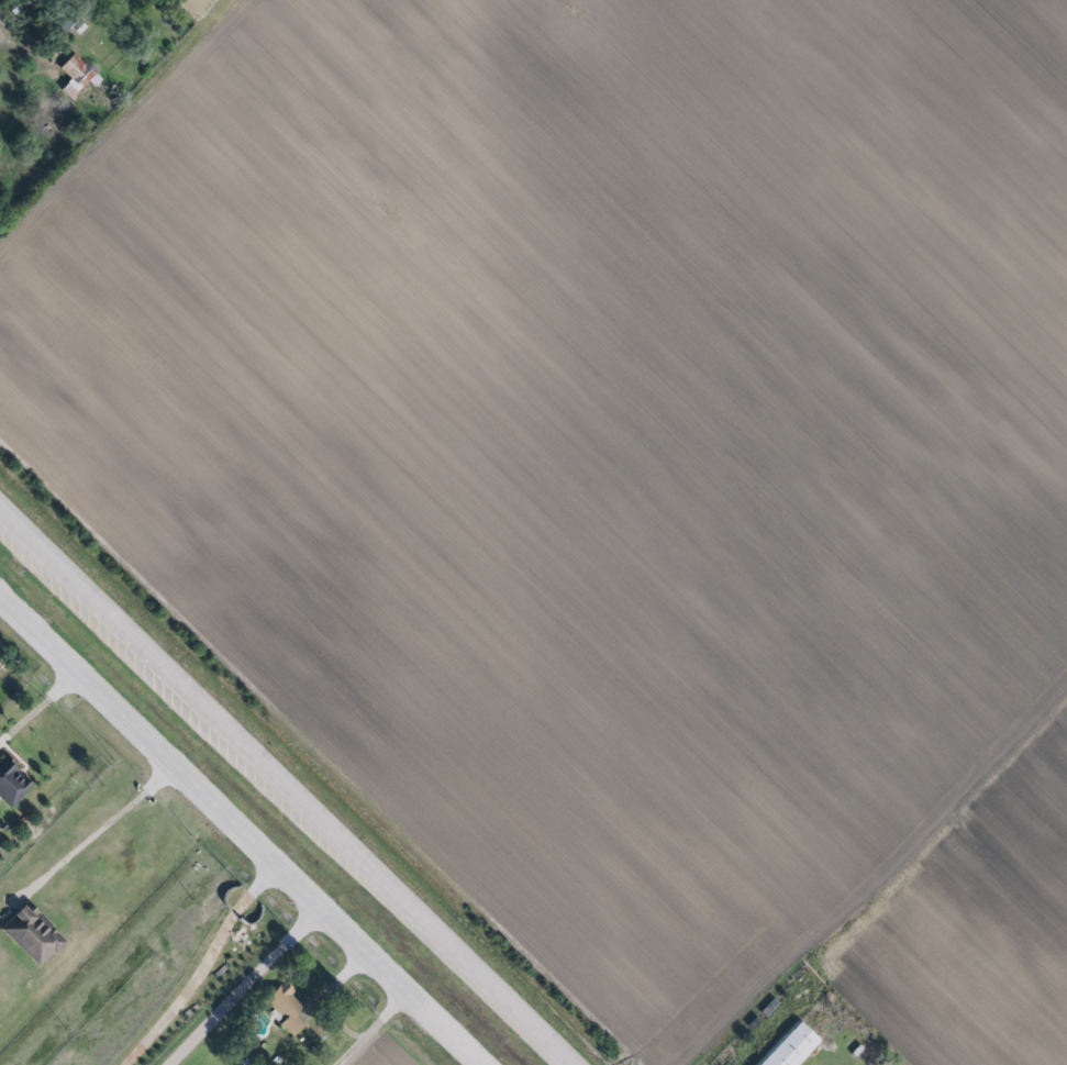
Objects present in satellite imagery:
building: (74, 77)
crop: (611, 469)
road: (37, 710)
building: (10, 785)
road: (284, 786)
road: (240, 833)
road: (98, 836)
building: (33, 933)
road: (202, 967)
road: (249, 989)
building: (282, 1008)
road: (370, 1028)
building: (790, 1047)

